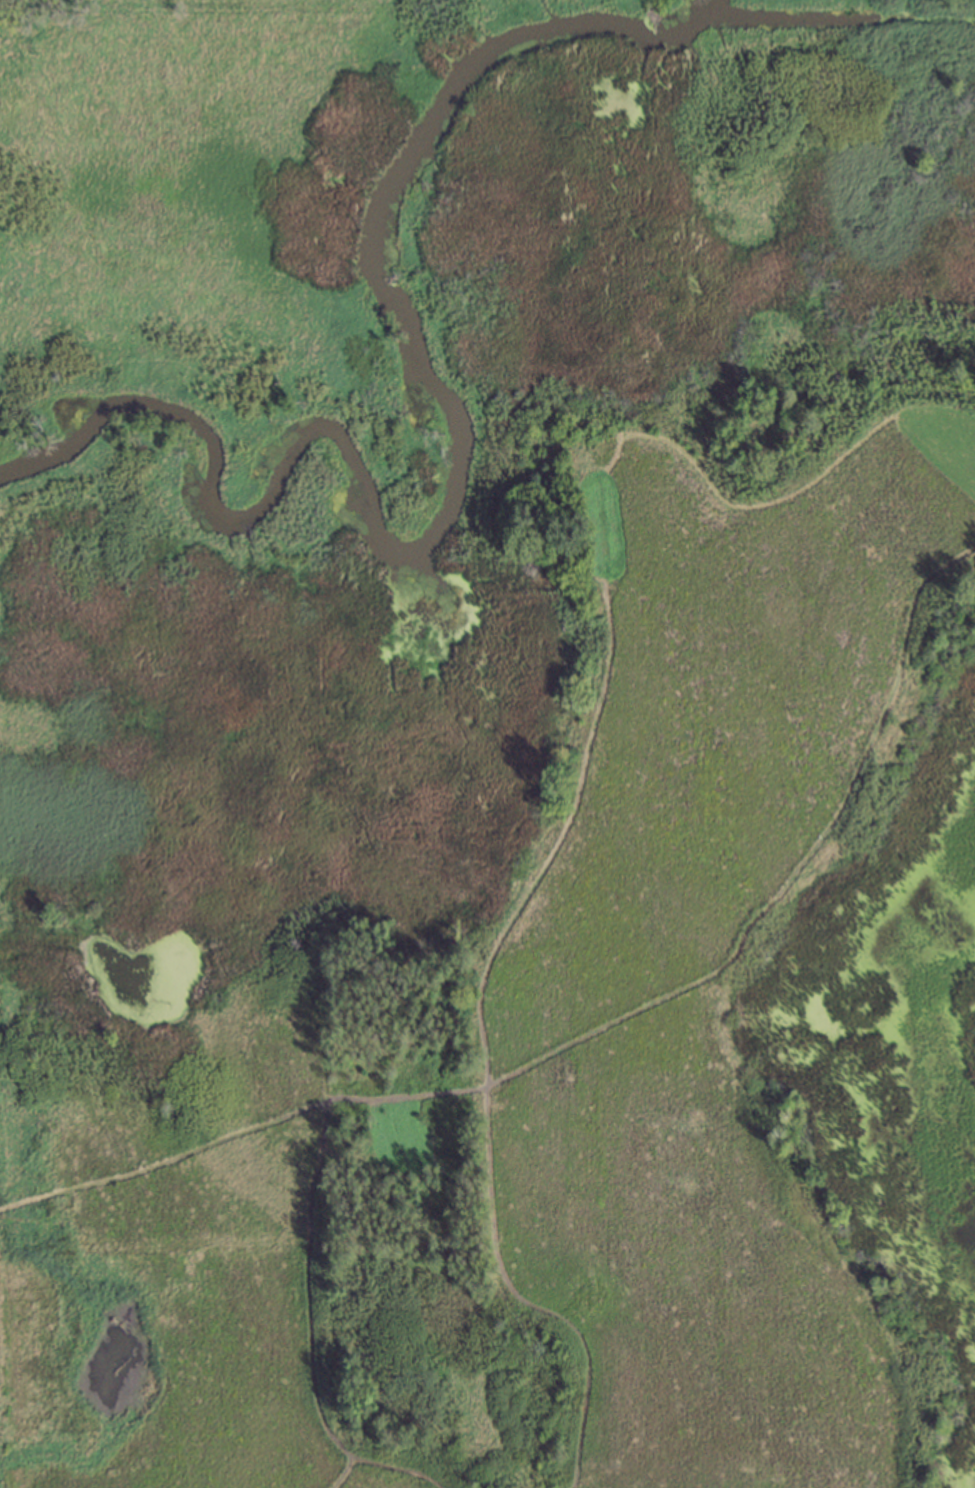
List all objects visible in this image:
river: (442, 451)

